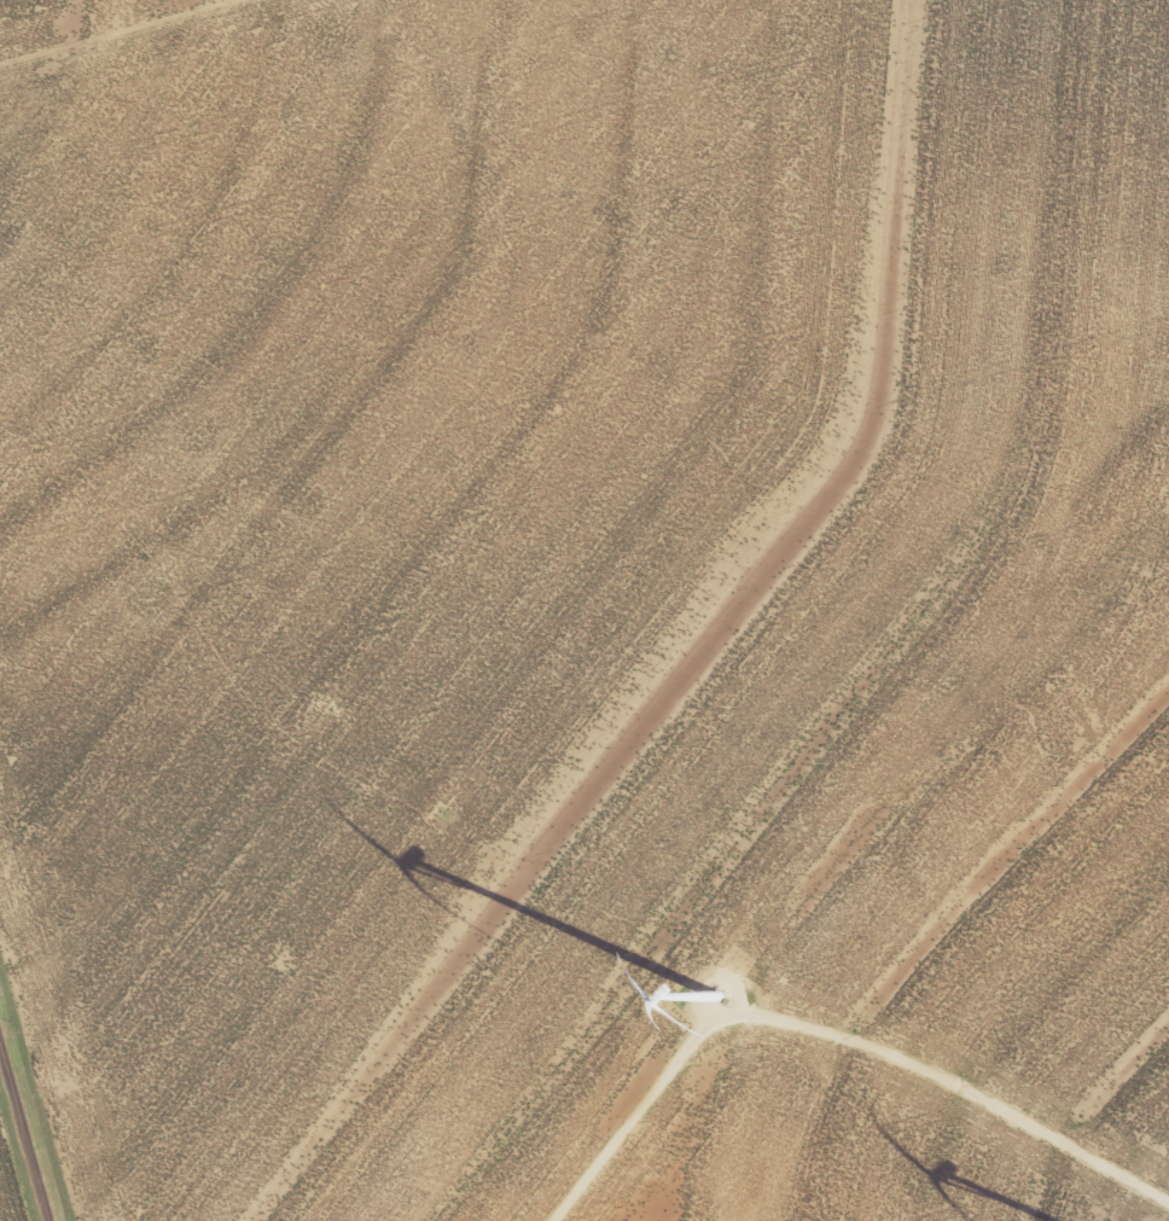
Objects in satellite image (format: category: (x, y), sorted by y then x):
wind turbine: (710, 1011)
road: (831, 1034)
road: (23, 1138)

